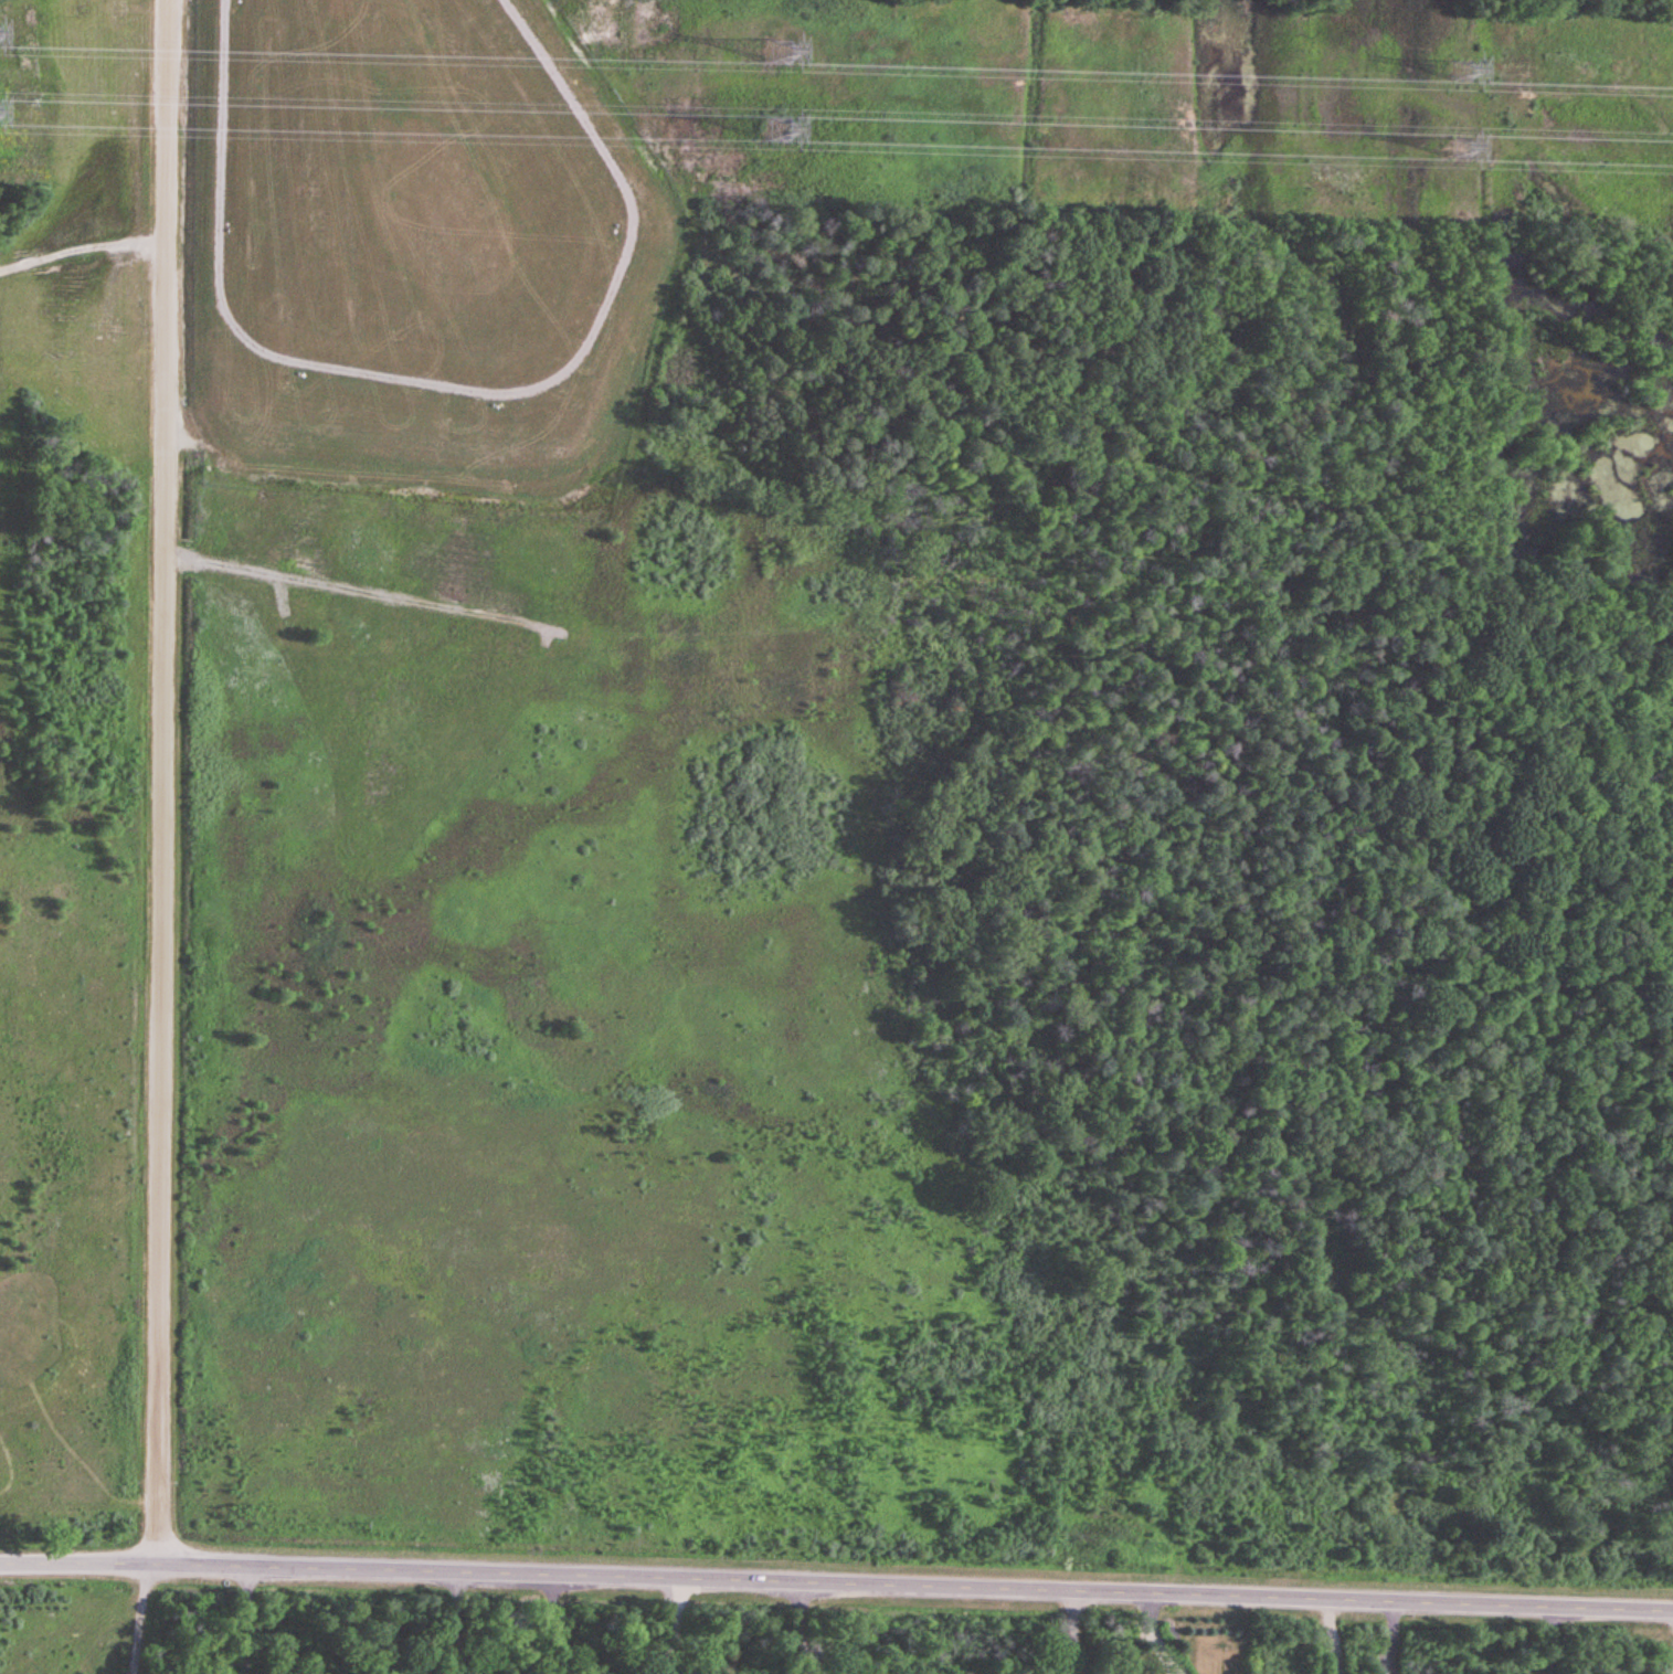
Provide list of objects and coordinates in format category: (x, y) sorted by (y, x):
power tower: (780, 52)
power tower: (1461, 71)
power tower: (780, 131)
power tower: (1460, 151)
road: (430, 303)
road: (166, 782)
road: (80, 1564)
road: (915, 1587)
road: (244, 1620)
road: (456, 1625)
crop: (64, 1628)
road: (798, 1629)
road: (1068, 1633)
road: (1672, 1673)

